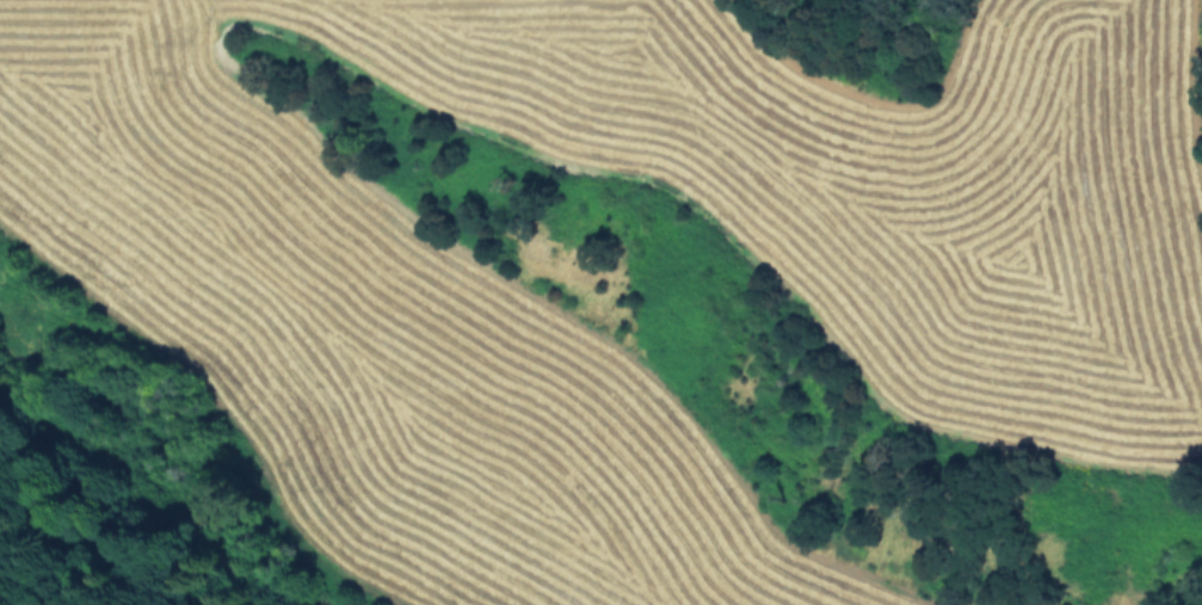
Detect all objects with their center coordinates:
river: (245, 420)

